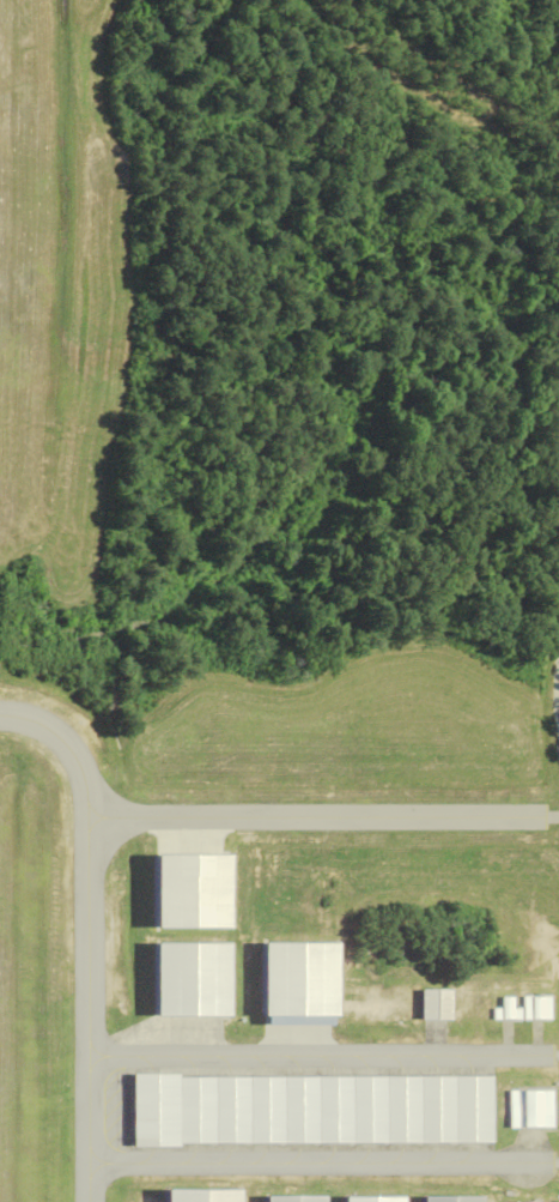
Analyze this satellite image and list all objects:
airport taxiway: (91, 931)
building: (436, 1004)
building: (537, 1007)
building: (508, 1010)
airport taxiway: (324, 1057)
building: (308, 1107)
building: (530, 1109)
airport taxiway: (322, 1164)
building: (194, 1192)
building: (288, 1196)
building: (369, 1196)
building: (446, 1196)
building: (519, 1201)

